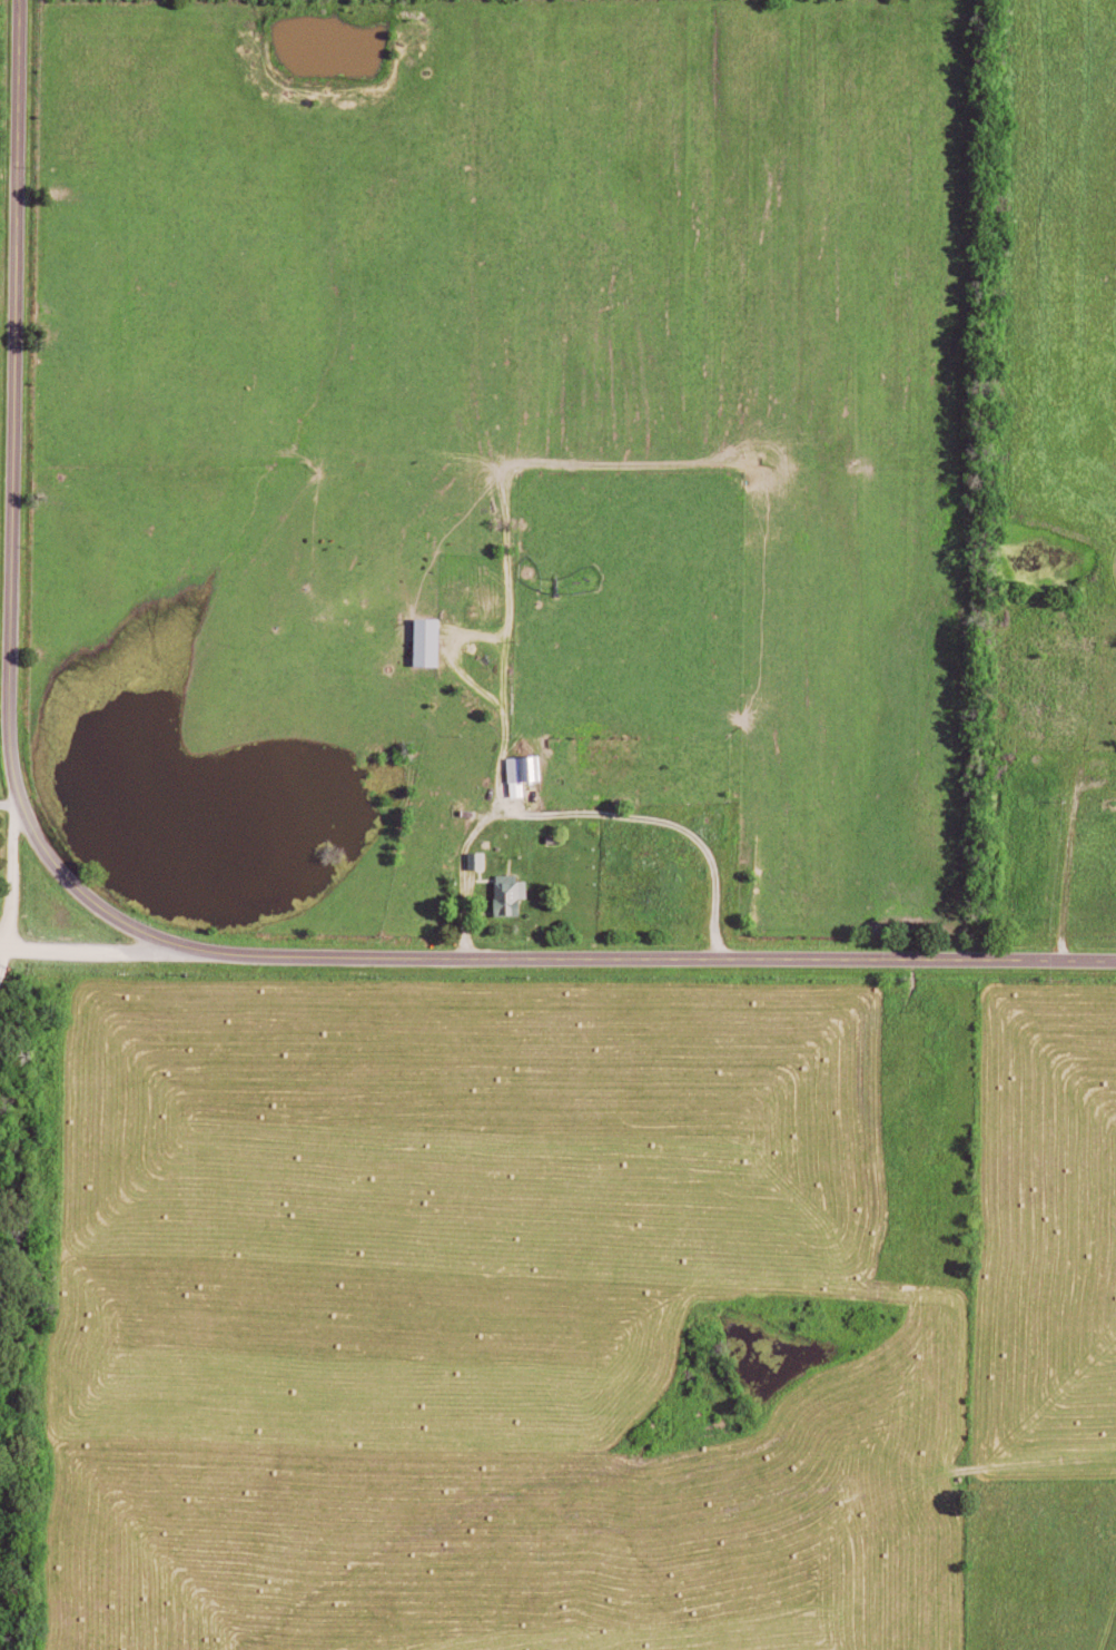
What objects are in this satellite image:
building: (431, 640)
building: (525, 772)
road: (463, 854)
road: (1070, 854)
building: (480, 860)
road: (12, 874)
building: (512, 893)
road: (138, 930)
road: (4, 952)
road: (120, 952)

